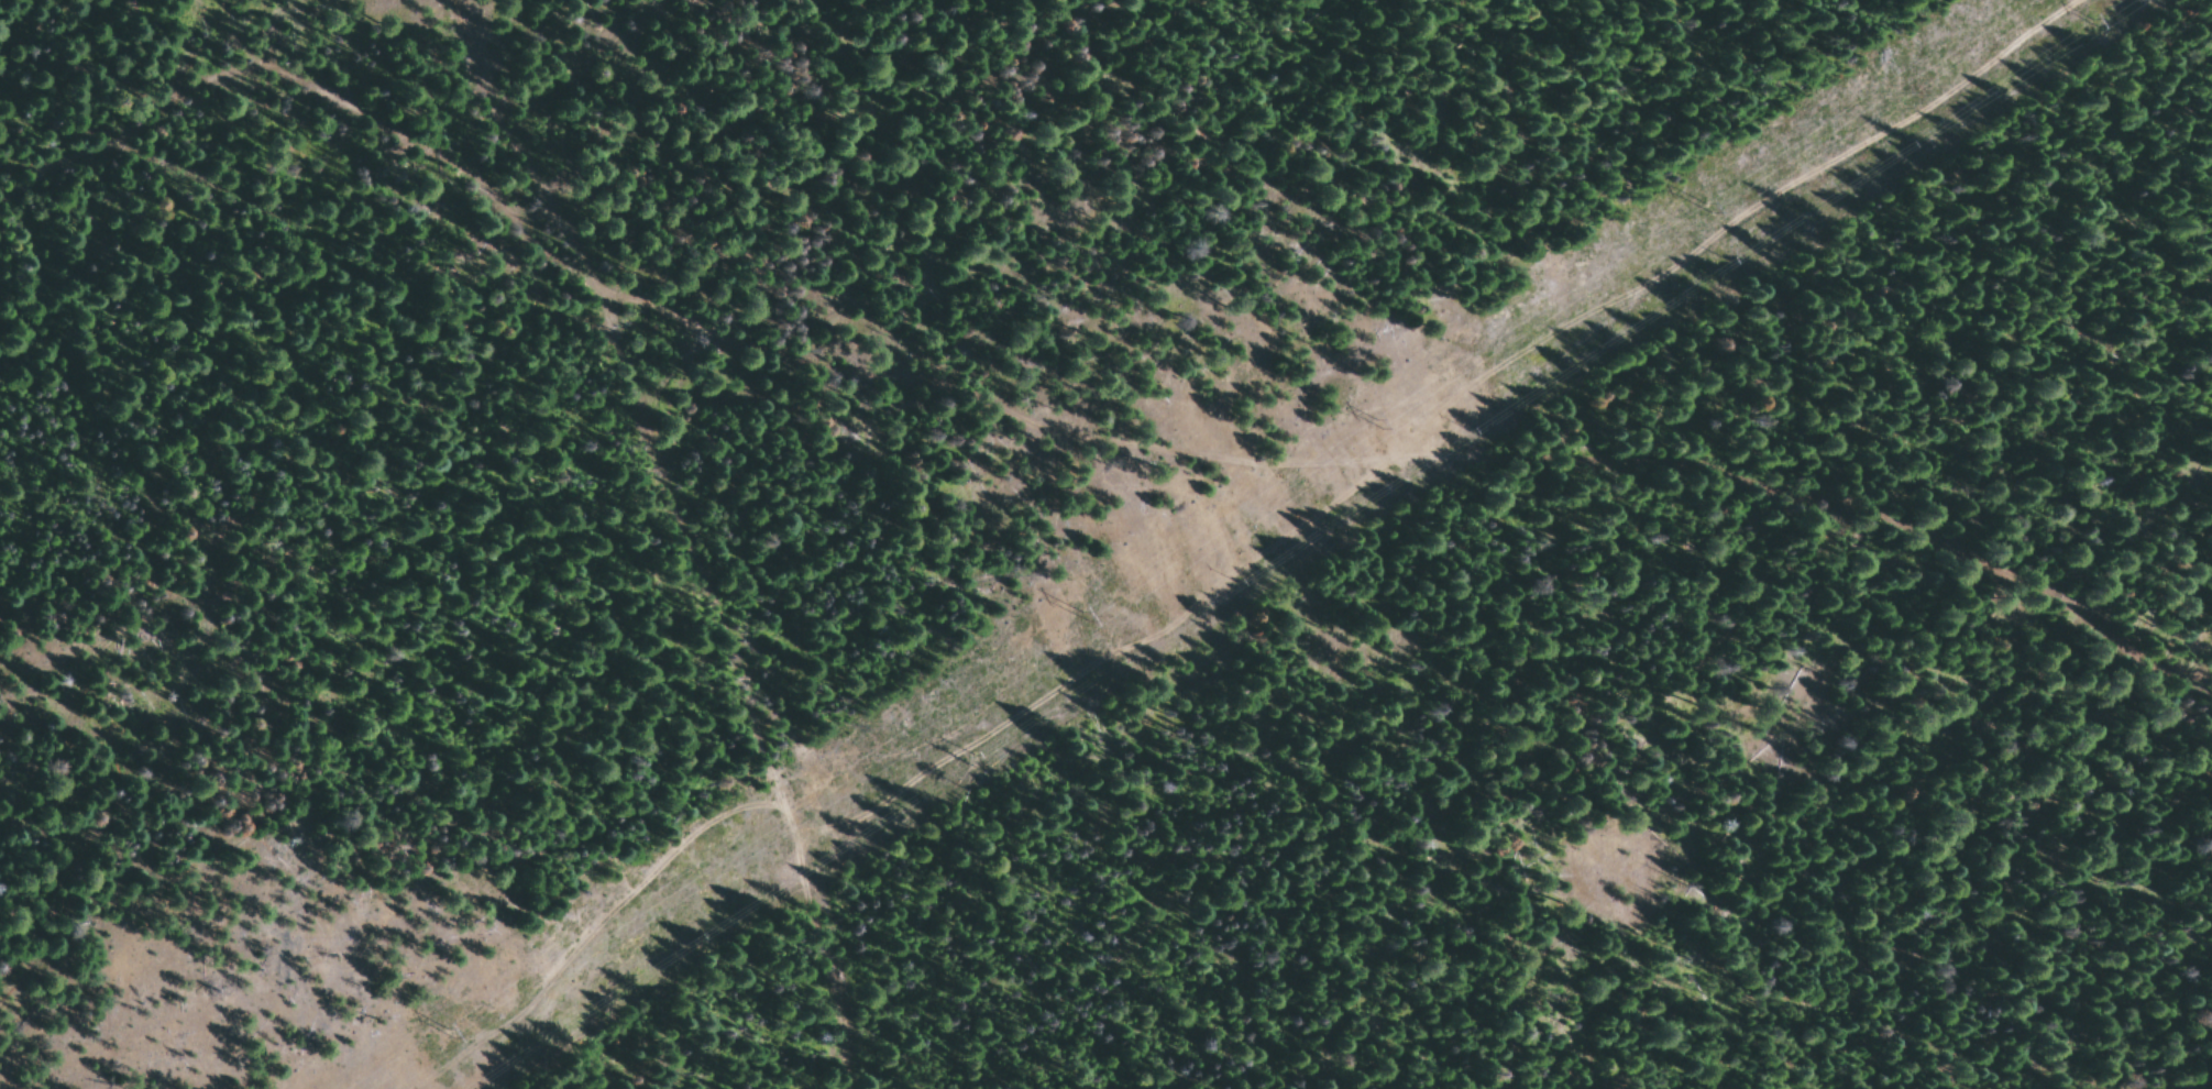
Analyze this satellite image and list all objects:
road: (48, 24)
power tower: (2095, 24)
power tower: (1703, 204)
power tower: (1378, 421)
road: (1142, 461)
road: (750, 521)
power tower: (1083, 613)
power tower: (452, 1030)

